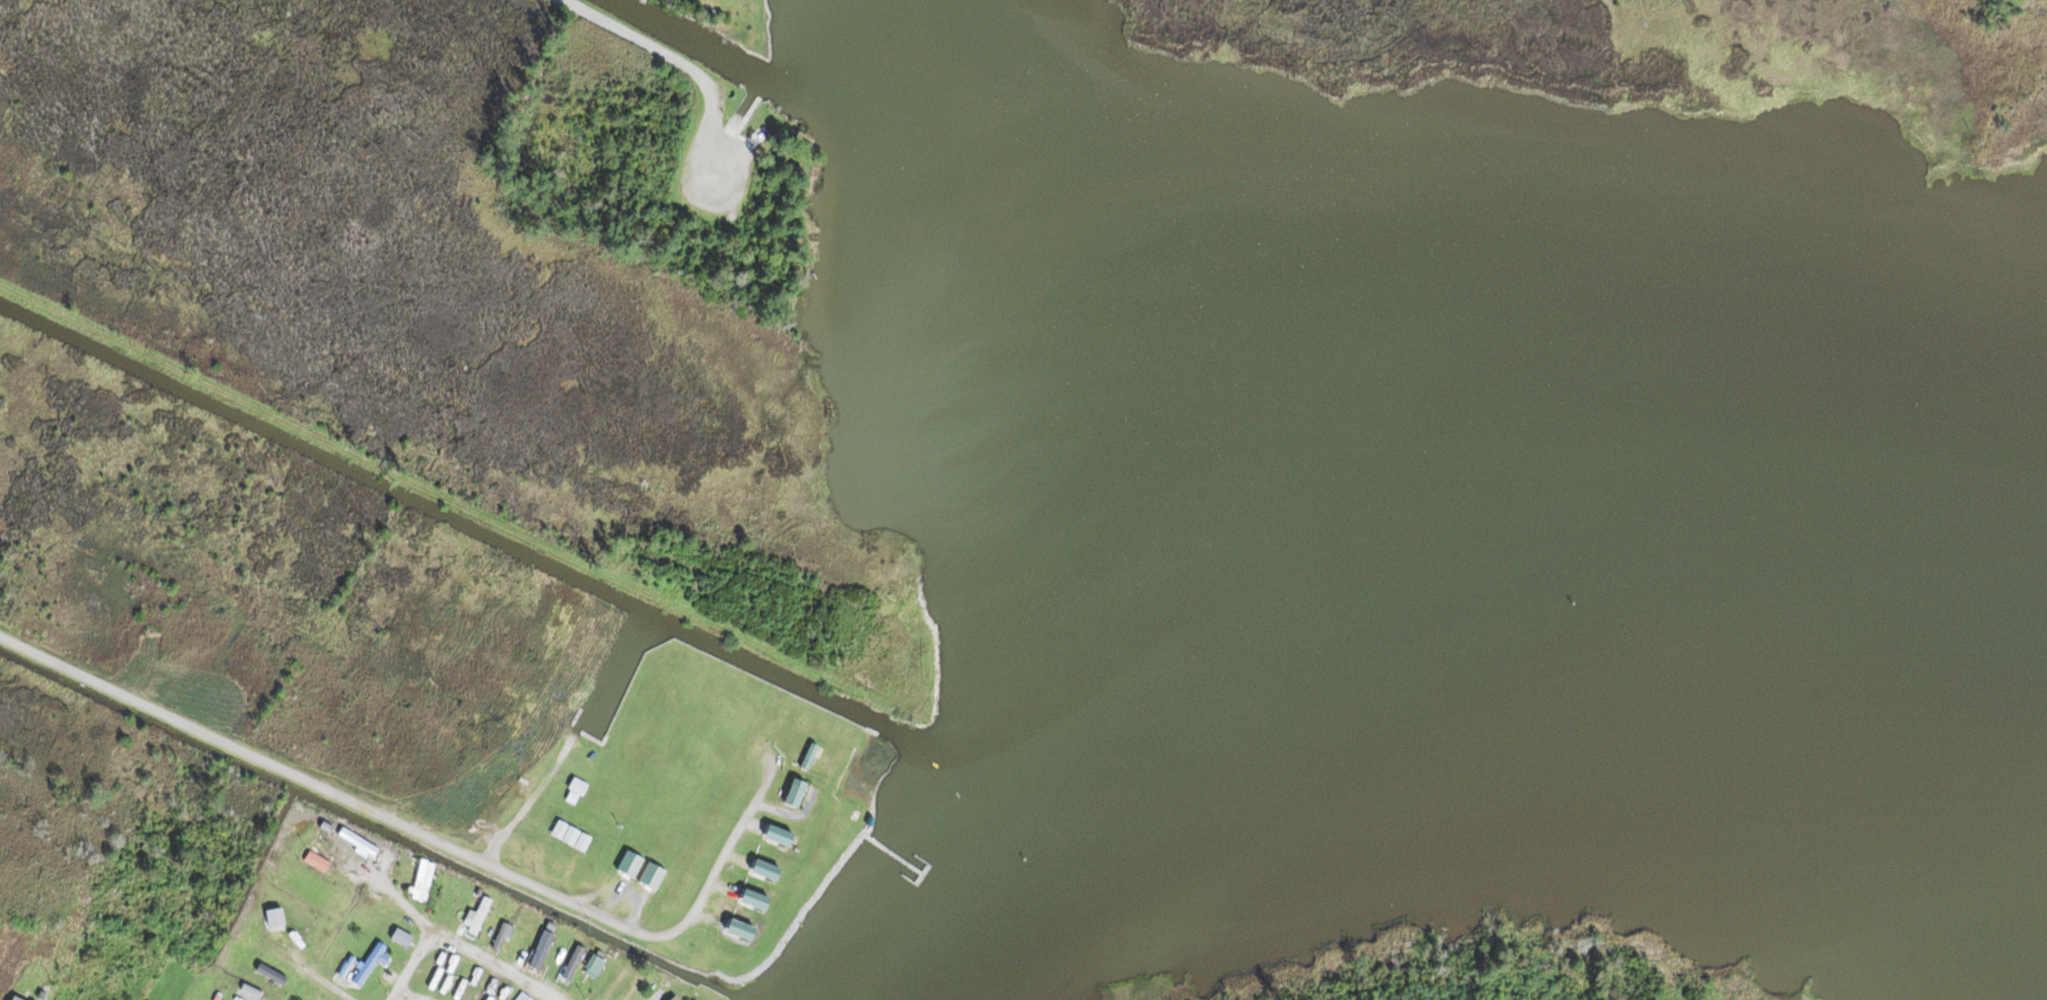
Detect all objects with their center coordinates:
road: (679, 62)
road: (389, 467)
building: (794, 792)
building: (572, 795)
road: (429, 836)
building: (357, 841)
building: (422, 879)
building: (476, 911)
building: (272, 917)
building: (501, 935)
building: (401, 936)
building: (541, 948)
road: (422, 955)
building: (335, 961)
building: (371, 962)
building: (571, 963)
building: (594, 964)
building: (270, 972)
road: (507, 973)
building: (248, 992)
building: (523, 996)
building: (17, 997)
building: (674, 998)

